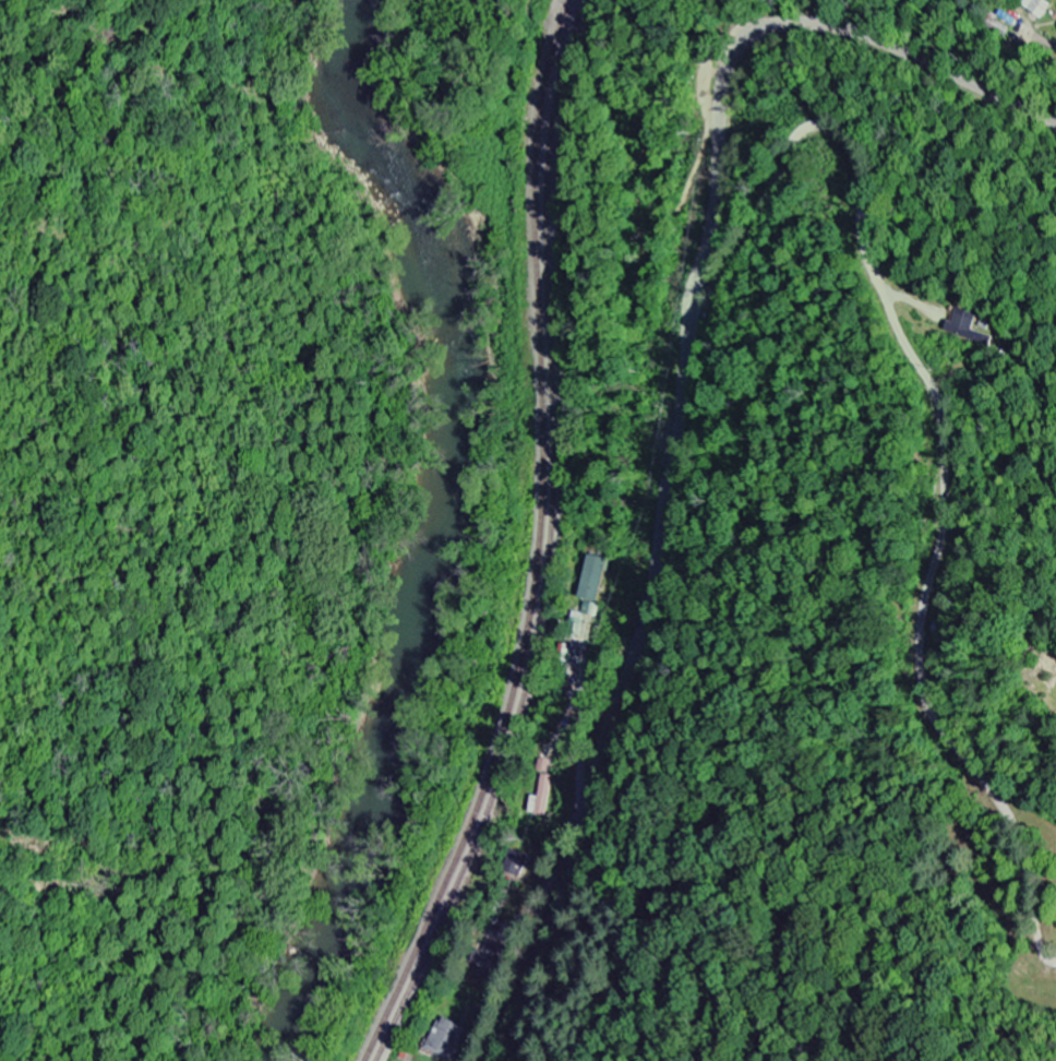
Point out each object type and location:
building: (1039, 7)
road: (1046, 38)
building: (962, 326)
road: (608, 386)
road: (682, 394)
road: (595, 517)
river: (453, 523)
railway: (536, 544)
railway: (548, 544)
building: (595, 579)

